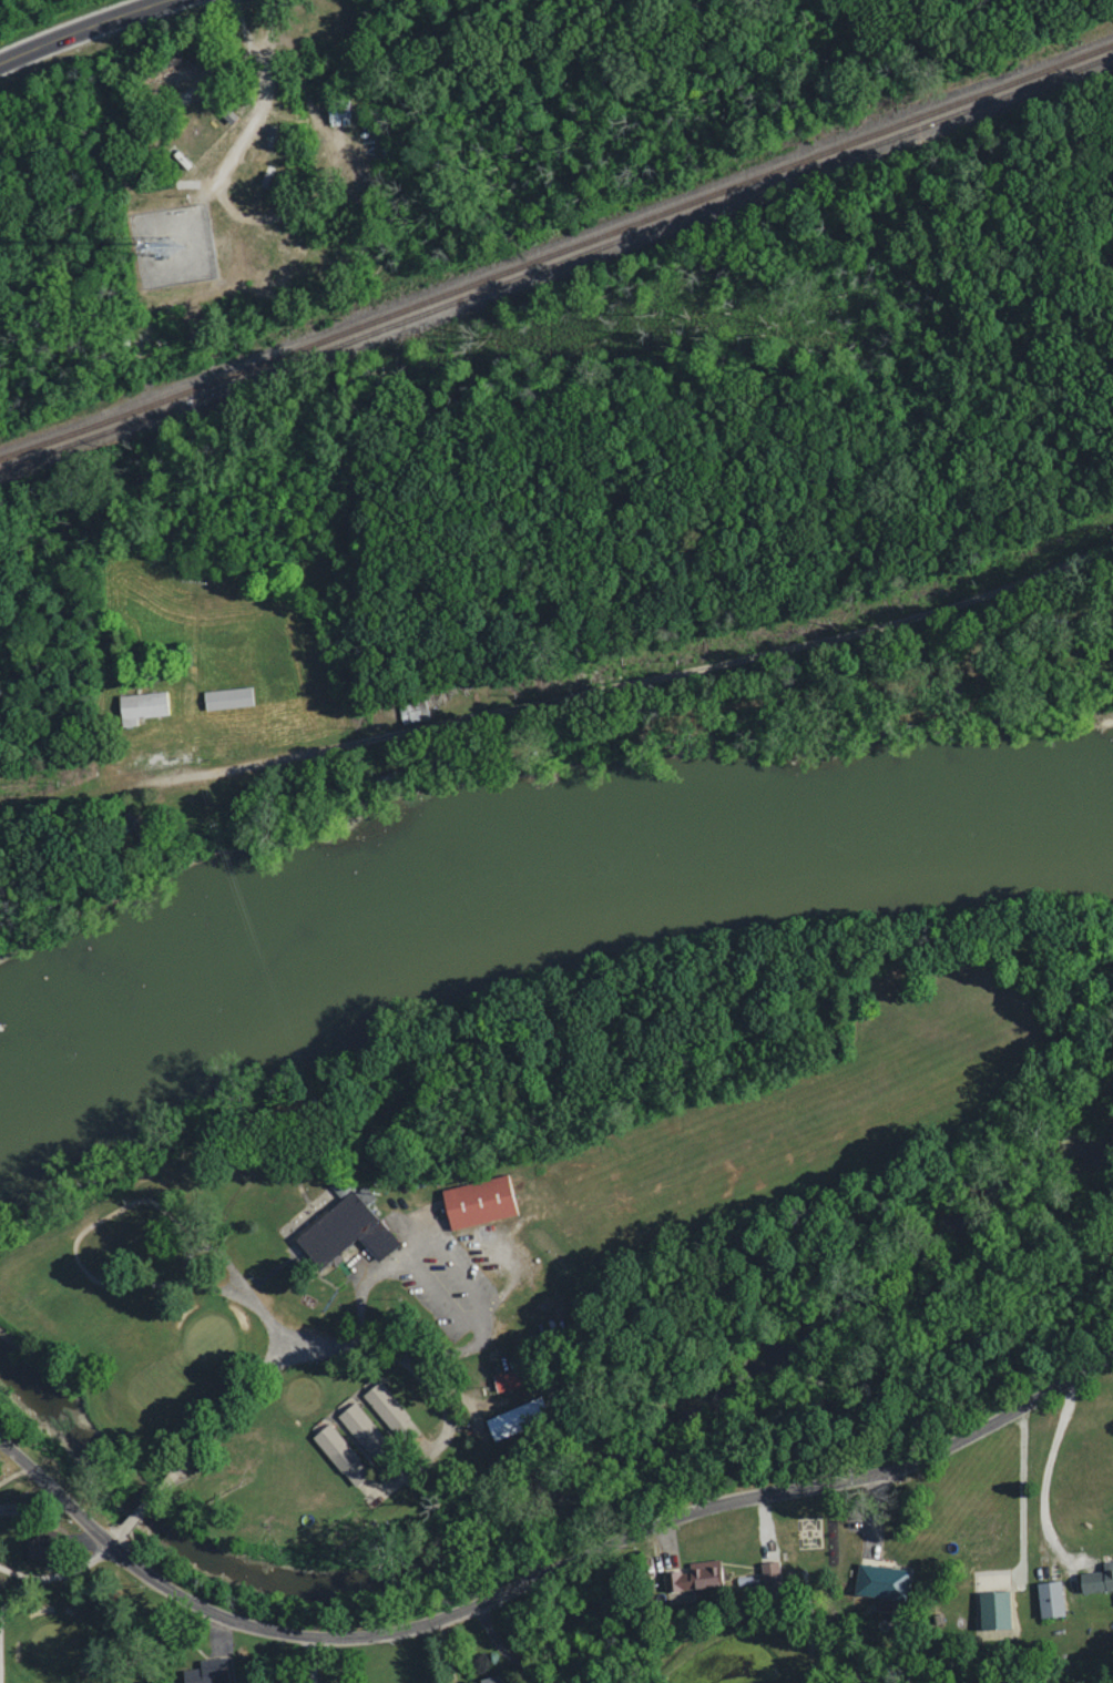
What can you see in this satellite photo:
road: (60, 23)
road: (169, 89)
road: (265, 247)
railway: (558, 247)
railway: (558, 264)
road: (562, 695)
building: (226, 698)
building: (140, 706)
river: (532, 898)
building: (476, 1201)
building: (344, 1228)
park: (307, 1363)
road: (425, 1375)
building: (504, 1380)
building: (527, 1408)
building: (390, 1411)
building: (499, 1425)
building: (358, 1426)
building: (338, 1452)
road: (1045, 1469)
road: (1022, 1493)
road: (160, 1501)
building: (32, 1546)
building: (768, 1573)
building: (693, 1575)
building: (1096, 1578)
building: (878, 1580)
road: (543, 1583)
building: (1048, 1598)
road: (10, 1600)
building: (992, 1609)
road: (502, 1645)
road: (445, 1653)
road: (316, 1662)
building: (206, 1671)
building: (486, 1679)

